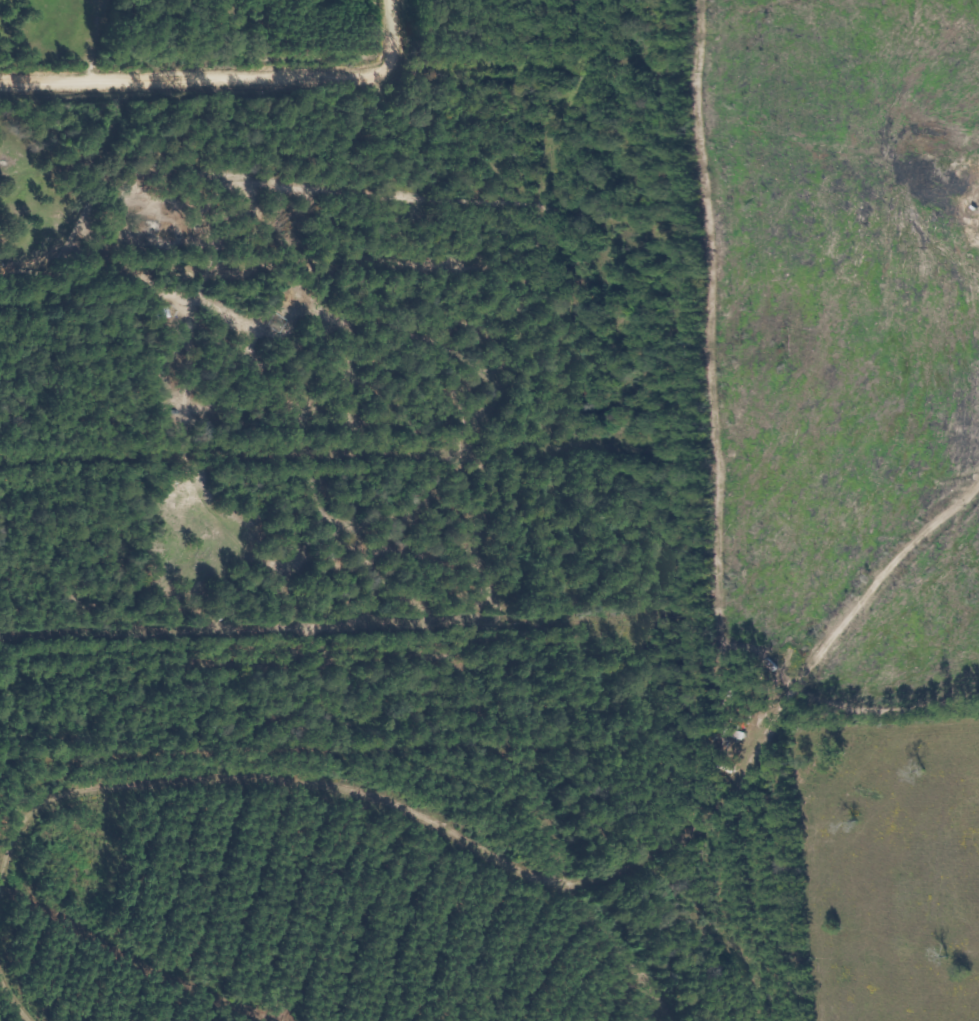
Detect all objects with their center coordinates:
road: (395, 26)
road: (177, 54)
road: (198, 64)
road: (552, 855)
road: (18, 965)

